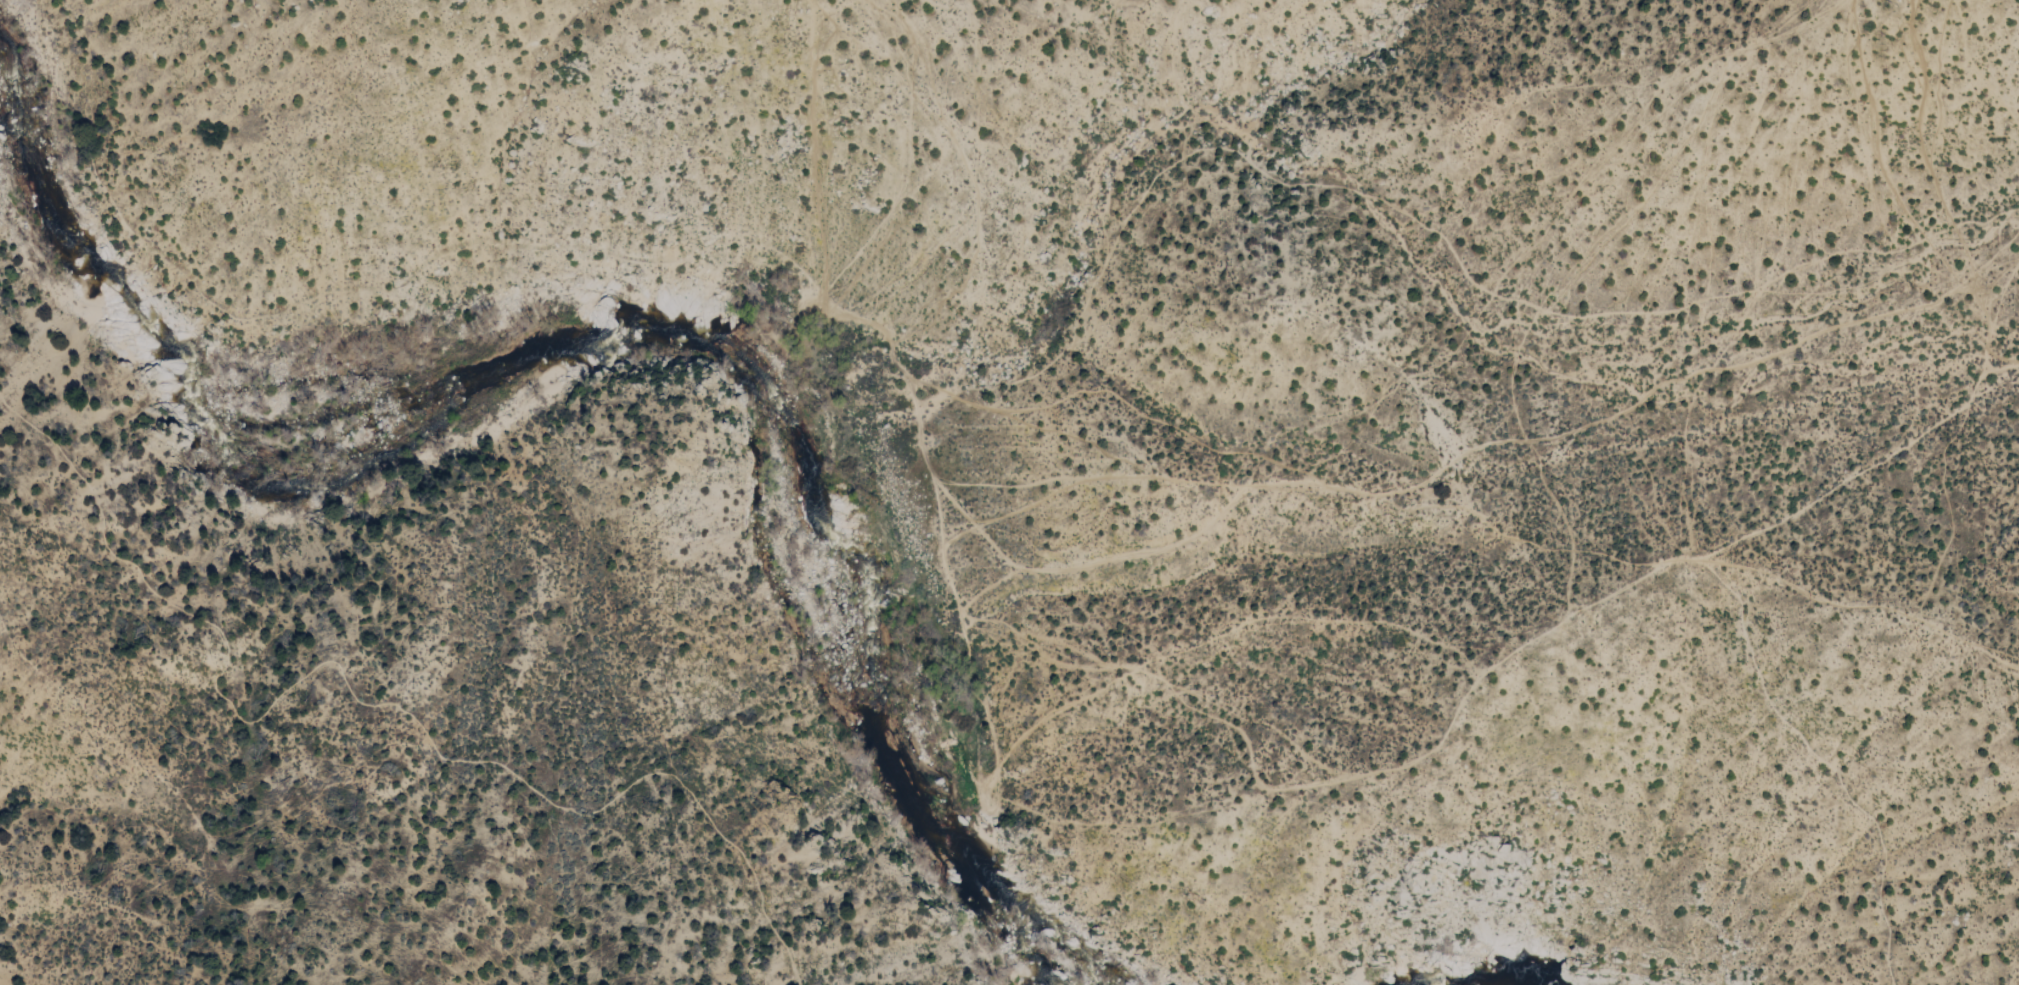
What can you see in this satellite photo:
road: (1414, 225)
road: (693, 261)
road: (1989, 264)
road: (1705, 374)
road: (1138, 416)
road: (1091, 480)
road: (1012, 513)
road: (1149, 553)
road: (1866, 604)
road: (1482, 685)
road: (371, 699)

